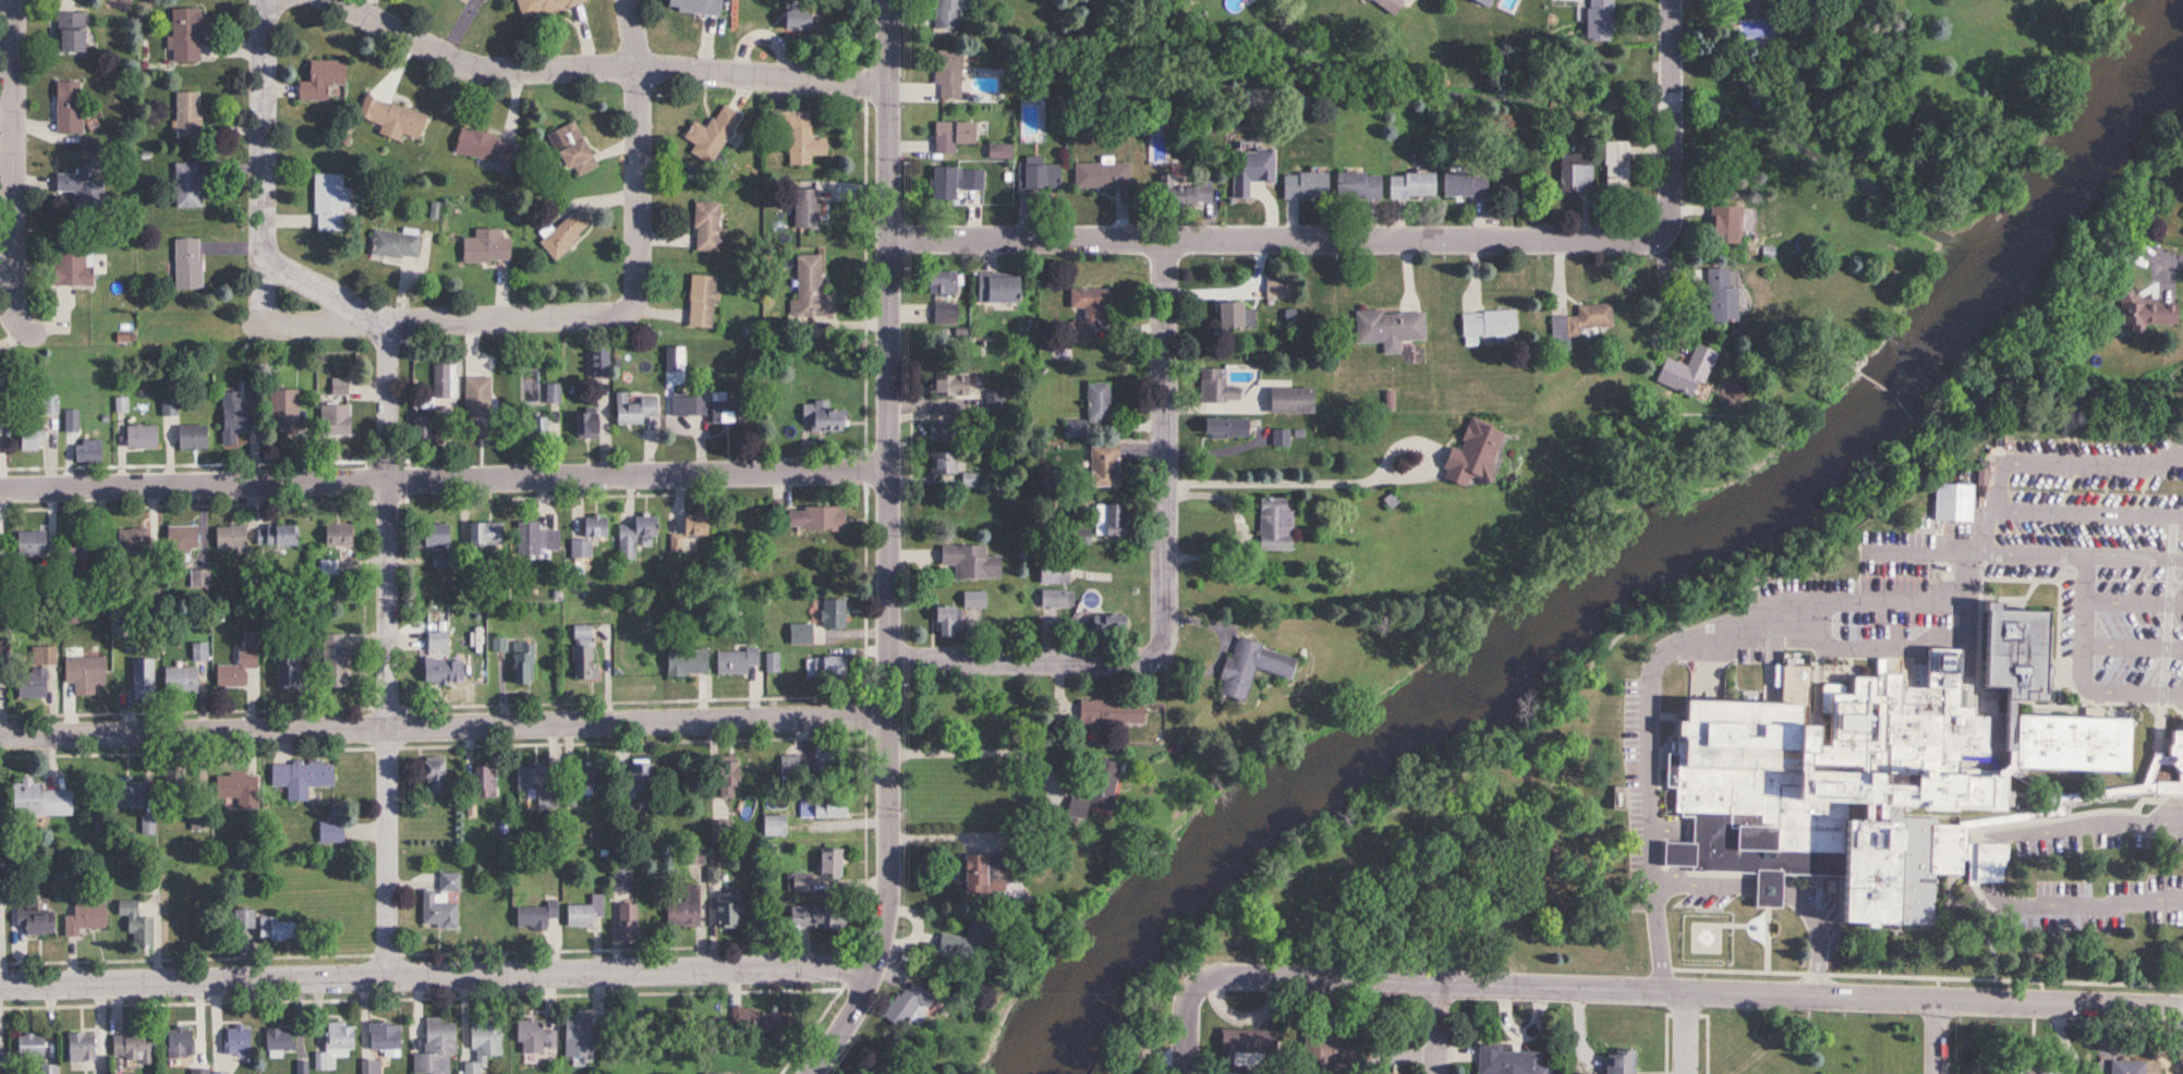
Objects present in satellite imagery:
building: (482, 0)
building: (1941, 0)
building: (1480, 2)
building: (1386, 4)
building: (692, 5)
building: (542, 7)
building: (1766, 7)
building: (945, 14)
building: (796, 19)
building: (1598, 20)
building: (68, 32)
building: (183, 34)
road: (608, 68)
building: (947, 73)
building: (318, 80)
building: (66, 107)
building: (186, 113)
building: (390, 120)
road: (1677, 124)
building: (710, 134)
building: (797, 134)
building: (951, 136)
road: (643, 145)
building: (483, 147)
building: (570, 149)
road: (268, 162)
building: (1615, 168)
building: (1248, 169)
road: (16, 171)
building: (1574, 174)
building: (1101, 175)
building: (1039, 179)
building: (954, 182)
building: (186, 185)
building: (1305, 185)
building: (1357, 185)
building: (1410, 185)
building: (1464, 185)
building: (81, 190)
building: (1181, 194)
building: (328, 203)
building: (804, 208)
building: (1730, 224)
building: (705, 227)
building: (565, 234)
road: (1270, 239)
building: (393, 244)
building: (485, 247)
road: (2172, 263)
building: (186, 264)
building: (70, 267)
building: (941, 282)
building: (996, 288)
building: (809, 289)
building: (1276, 289)
road: (329, 291)
building: (1720, 295)
building: (701, 302)
building: (2145, 310)
building: (1088, 312)
building: (945, 314)
building: (1581, 320)
road: (459, 321)
building: (1488, 324)
building: (1388, 328)
building: (598, 364)
building: (1684, 371)
building: (444, 383)
building: (948, 385)
building: (1216, 387)
building: (1290, 401)
building: (1097, 402)
building: (477, 406)
building: (708, 406)
building: (634, 410)
building: (283, 411)
building: (233, 417)
building: (822, 417)
building: (333, 418)
building: (70, 422)
building: (583, 424)
building: (421, 427)
building: (1224, 428)
building: (532, 429)
building: (943, 431)
building: (141, 437)
building: (191, 437)
building: (1281, 438)
building: (31, 440)
building: (86, 451)
building: (1469, 454)
building: (942, 463)
building: (1104, 465)
road: (2001, 476)
road: (448, 478)
building: (969, 479)
road: (1335, 487)
building: (1953, 503)
road: (2085, 510)
building: (814, 518)
building: (1108, 521)
building: (1274, 525)
building: (592, 530)
building: (690, 530)
road: (1238, 533)
building: (435, 535)
building: (484, 535)
building: (279, 536)
building: (337, 536)
building: (230, 537)
building: (633, 537)
building: (1081, 537)
building: (529, 540)
building: (131, 541)
building: (179, 544)
building: (29, 545)
building: (78, 547)
road: (895, 547)
road: (2134, 558)
building: (970, 562)
building: (327, 567)
building: (1054, 571)
river: (1636, 573)
road: (1969, 575)
road: (1169, 581)
building: (973, 599)
road: (2134, 600)
building: (1056, 602)
road: (2085, 612)
building: (833, 614)
building: (946, 621)
building: (1106, 625)
building: (800, 635)
road: (1876, 640)
building: (437, 642)
road: (2134, 646)
road: (395, 649)
building: (582, 652)
building: (43, 655)
road: (1220, 656)
building: (332, 661)
building: (735, 661)
road: (1654, 661)
building: (687, 662)
building: (773, 662)
building: (522, 663)
building: (824, 667)
building: (1248, 669)
building: (238, 671)
building: (435, 672)
building: (83, 674)
building: (286, 674)
building: (142, 679)
building: (179, 681)
building: (0, 682)
building: (31, 683)
building: (1106, 713)
road: (446, 725)
building: (2175, 743)
building: (825, 757)
road: (980, 758)
building: (789, 766)
building: (1881, 770)
building: (433, 776)
building: (301, 778)
building: (532, 779)
building: (583, 780)
building: (483, 782)
building: (639, 784)
building: (234, 785)
building: (1091, 790)
building: (131, 794)
building: (37, 800)
building: (825, 808)
road: (2087, 821)
building: (147, 823)
building: (774, 826)
building: (720, 829)
building: (329, 832)
road: (1992, 859)
building: (828, 862)
building: (1988, 862)
building: (975, 869)
building: (620, 877)
building: (799, 881)
road: (1703, 883)
road: (1768, 888)
building: (439, 904)
road: (2082, 904)
building: (683, 907)
building: (727, 908)
building: (583, 911)
building: (534, 914)
building: (816, 915)
building: (83, 916)
building: (243, 918)
building: (626, 919)
building: (38, 920)
building: (134, 920)
building: (271, 928)
road: (1818, 933)
helipad: (1706, 936)
building: (962, 940)
road: (441, 974)
road: (1701, 990)
building: (905, 1006)
building: (755, 1020)
road: (1194, 1020)
road: (1337, 1024)
road: (1444, 1028)
road: (1684, 1032)
building: (383, 1035)
building: (533, 1036)
road: (1937, 1036)
building: (577, 1037)
building: (235, 1039)
building: (278, 1039)
building: (178, 1041)
building: (481, 1044)
building: (31, 1045)
building: (78, 1045)
building: (333, 1045)
building: (131, 1046)
building: (1242, 1046)
building: (434, 1047)
building: (1324, 1051)
building: (1507, 1061)
building: (1621, 1062)
building: (2127, 1066)
building: (48, 1070)
building: (2038, 1070)
building: (219, 1073)
building: (721, 1073)

